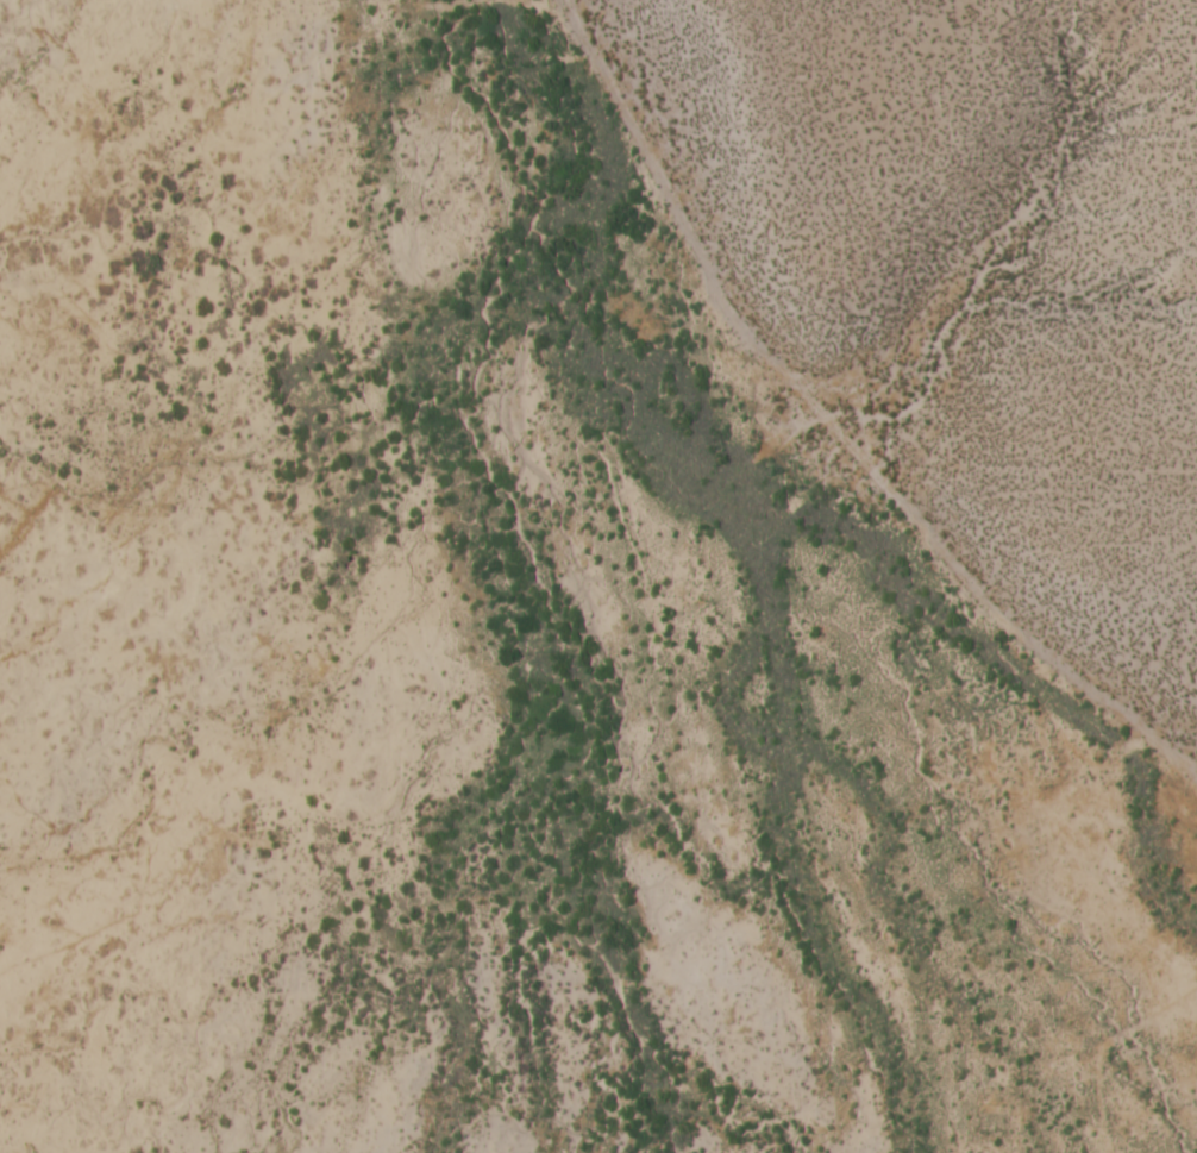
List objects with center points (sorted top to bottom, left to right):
river: (538, 571)

